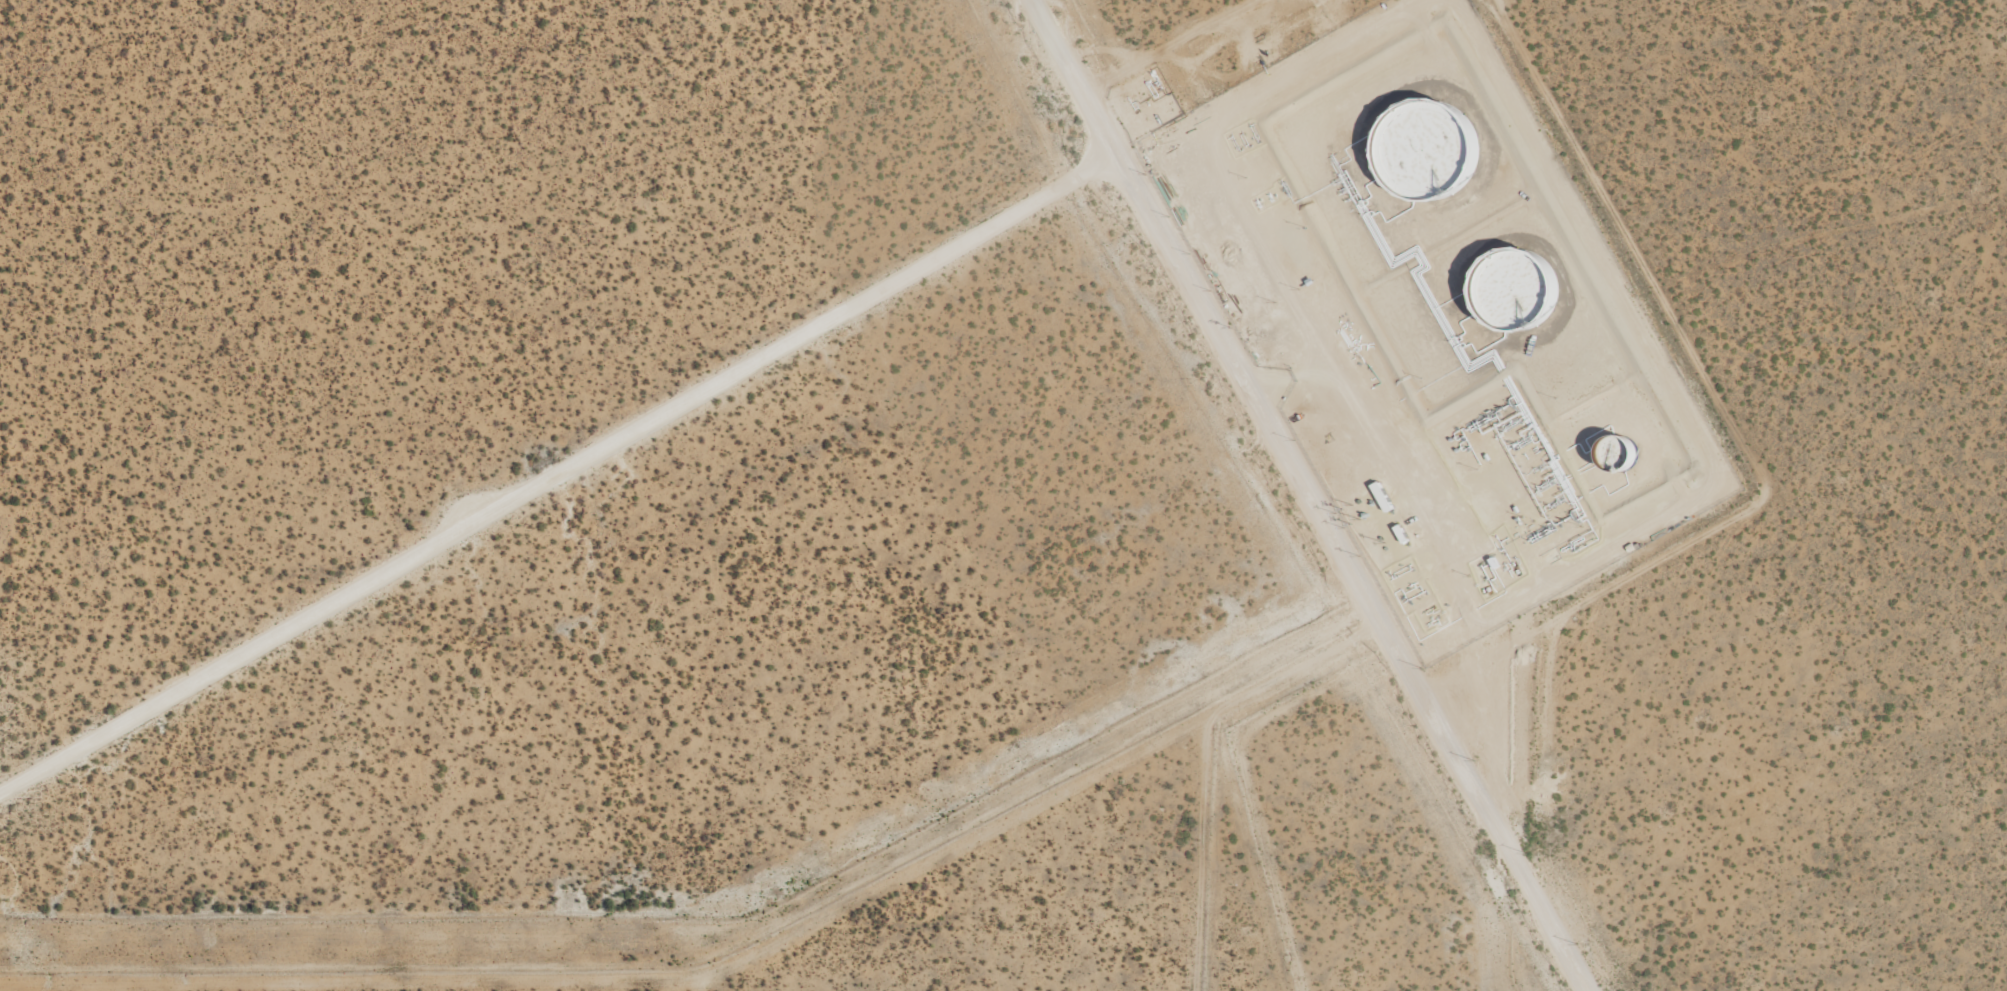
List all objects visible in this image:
road: (552, 475)
road: (1290, 498)

